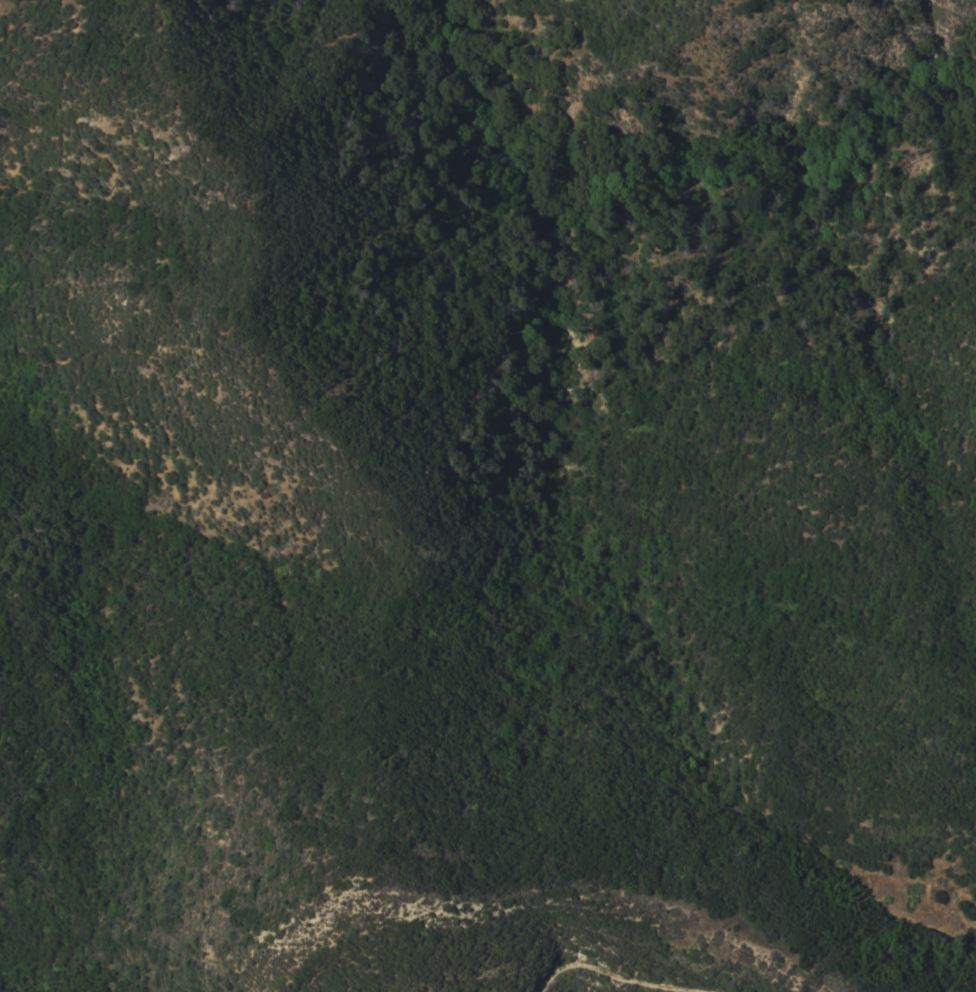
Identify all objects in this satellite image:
road: (611, 977)

